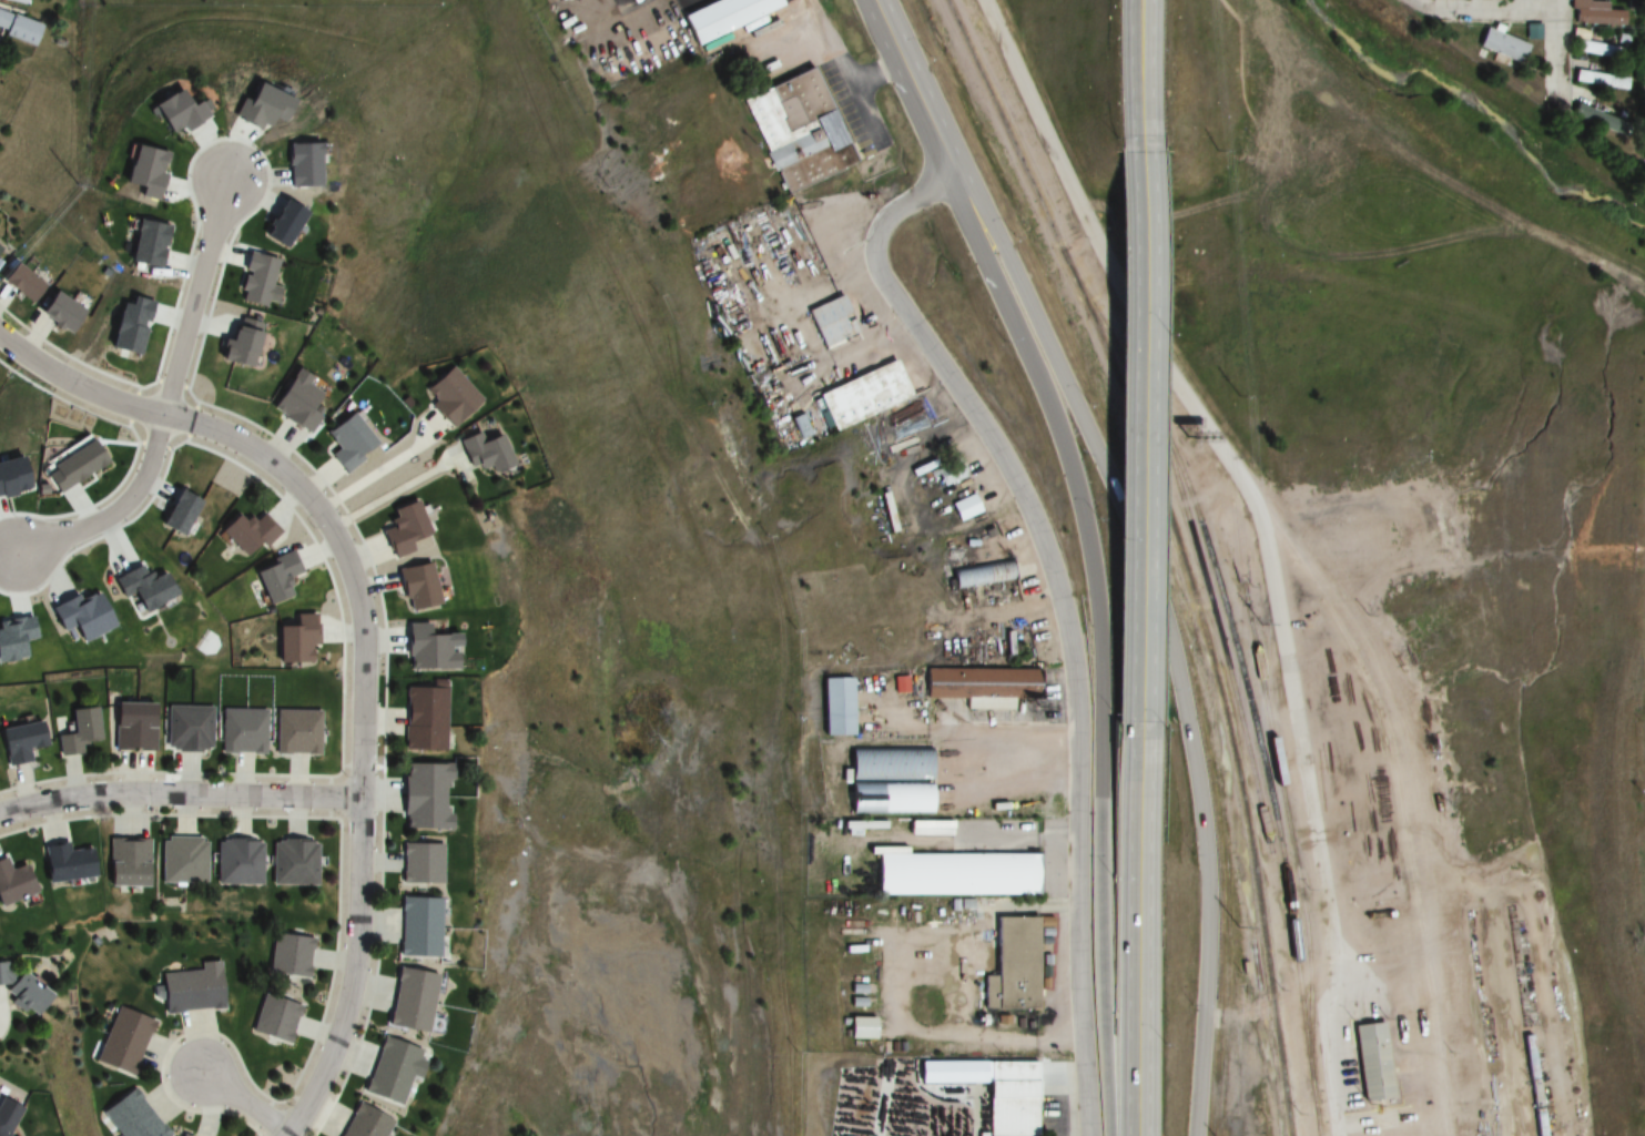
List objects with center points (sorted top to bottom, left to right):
road: (1473, 10)
building: (1593, 13)
building: (722, 17)
road: (998, 28)
building: (19, 29)
road: (1557, 49)
building: (1598, 50)
road: (1151, 74)
building: (1600, 80)
road: (917, 89)
building: (1595, 119)
building: (798, 131)
power tower: (1206, 150)
building: (0, 251)
building: (254, 280)
building: (19, 282)
road: (196, 296)
building: (58, 312)
road: (1036, 317)
building: (831, 322)
building: (238, 343)
road: (1038, 377)
building: (448, 396)
building: (863, 396)
power tower: (1227, 396)
building: (295, 402)
building: (801, 427)
road: (160, 429)
road: (1149, 435)
building: (347, 443)
building: (483, 453)
building: (947, 474)
road: (1252, 499)
building: (964, 508)
building: (400, 529)
building: (244, 535)
railway: (1179, 548)
building: (981, 575)
building: (274, 579)
building: (416, 588)
road: (1063, 608)
railway: (1216, 618)
power tower: (1261, 625)
building: (295, 640)
road: (363, 640)
building: (426, 650)
railway: (1237, 653)
building: (981, 687)
building: (837, 707)
building: (423, 717)
building: (132, 728)
building: (186, 729)
building: (75, 731)
building: (241, 732)
building: (295, 732)
building: (19, 743)
building: (887, 782)
road: (180, 793)
road: (1202, 793)
building: (423, 797)
railway: (1284, 812)
road: (1103, 860)
building: (179, 862)
building: (123, 863)
building: (235, 863)
building: (64, 864)
building: (291, 864)
building: (419, 864)
building: (954, 875)
building: (12, 884)
building: (416, 927)
road: (1141, 927)
building: (287, 955)
building: (1012, 966)
building: (20, 992)
building: (191, 992)
building: (408, 1001)
road: (0, 1015)
building: (274, 1018)
building: (861, 1028)
building: (122, 1042)
building: (1370, 1053)
building: (390, 1072)
building: (995, 1092)
railway: (1316, 1100)
road: (245, 1103)
building: (131, 1117)
building: (363, 1123)
building: (176, 1135)

